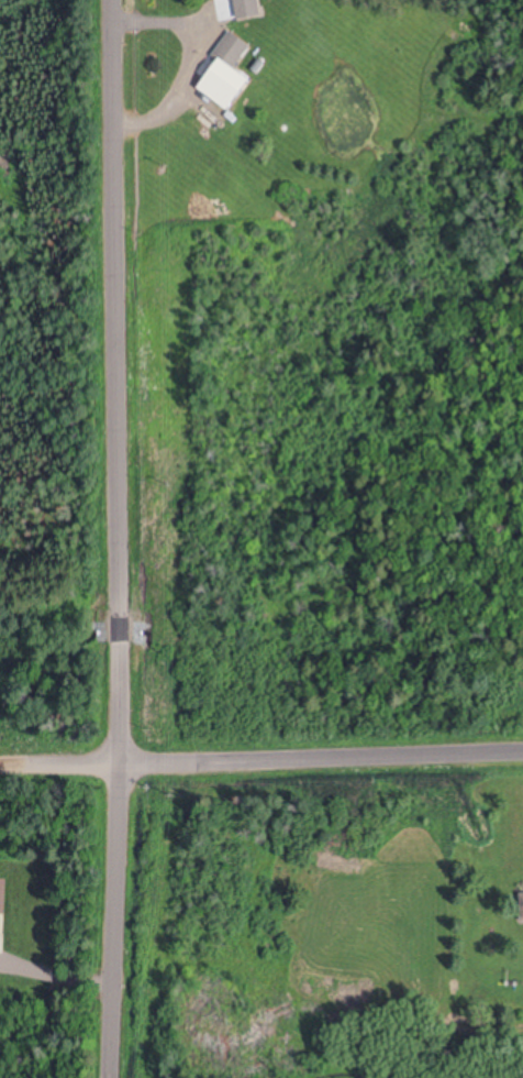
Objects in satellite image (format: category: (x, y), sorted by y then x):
building: (247, 8)
building: (231, 50)
road: (119, 539)
road: (261, 758)
building: (3, 894)
building: (521, 905)

